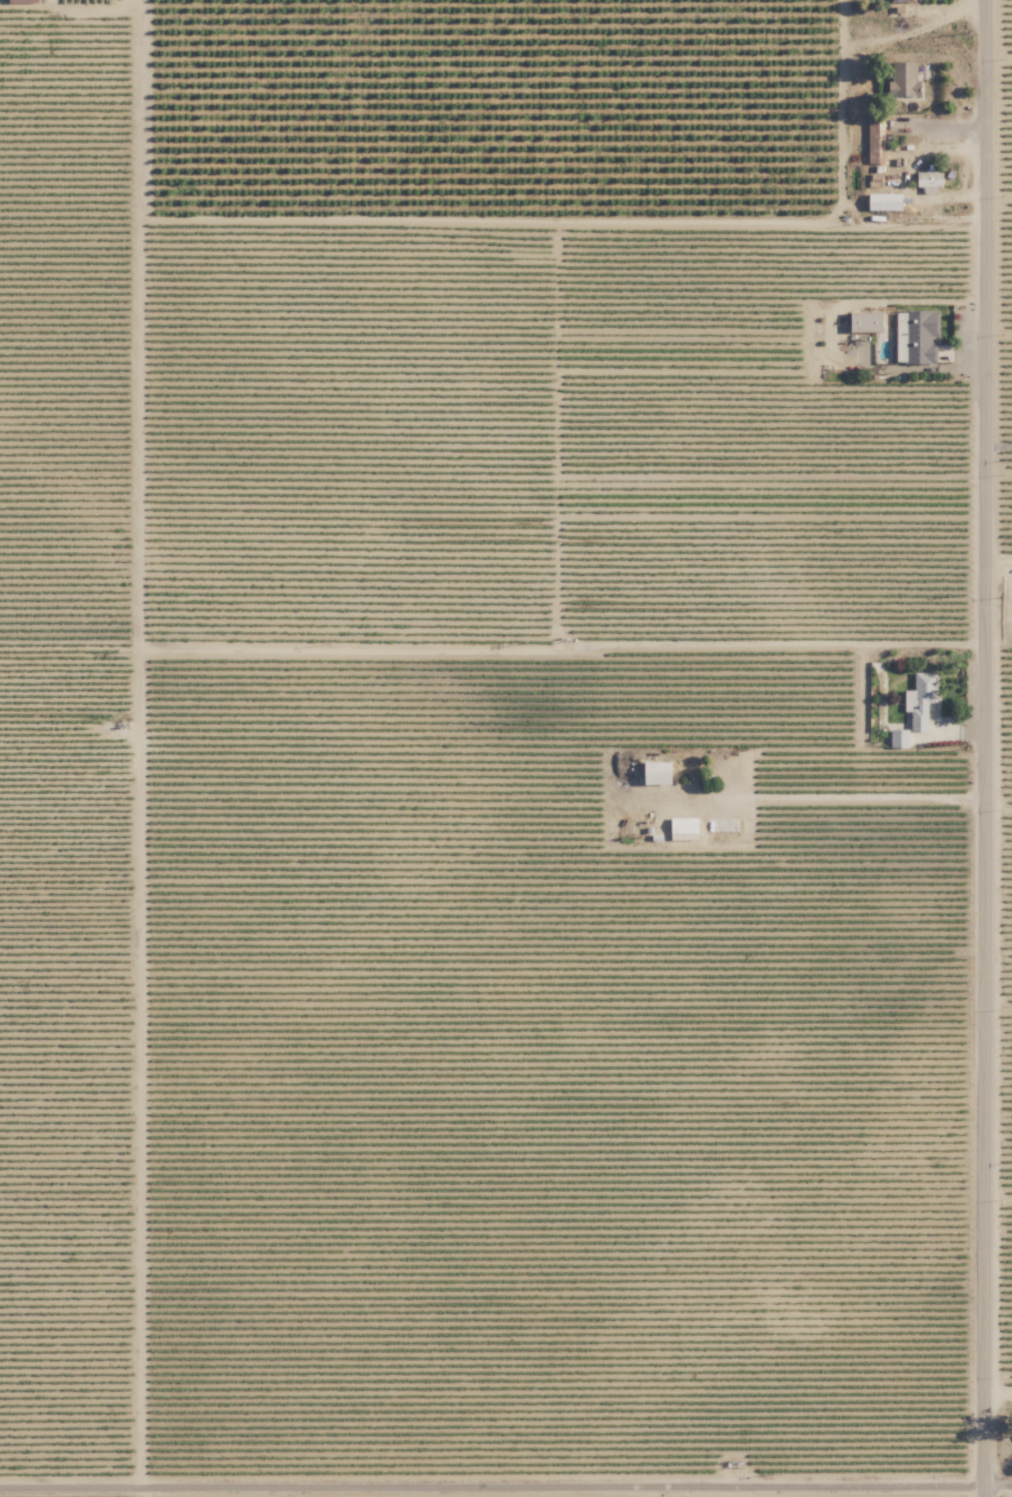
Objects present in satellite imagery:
building: (902, 1)
building: (905, 79)
building: (868, 321)
road: (1000, 446)
road: (999, 655)
building: (920, 699)
building: (899, 737)
road: (987, 748)
building: (659, 772)
road: (842, 801)
building: (684, 827)
road: (506, 1494)

